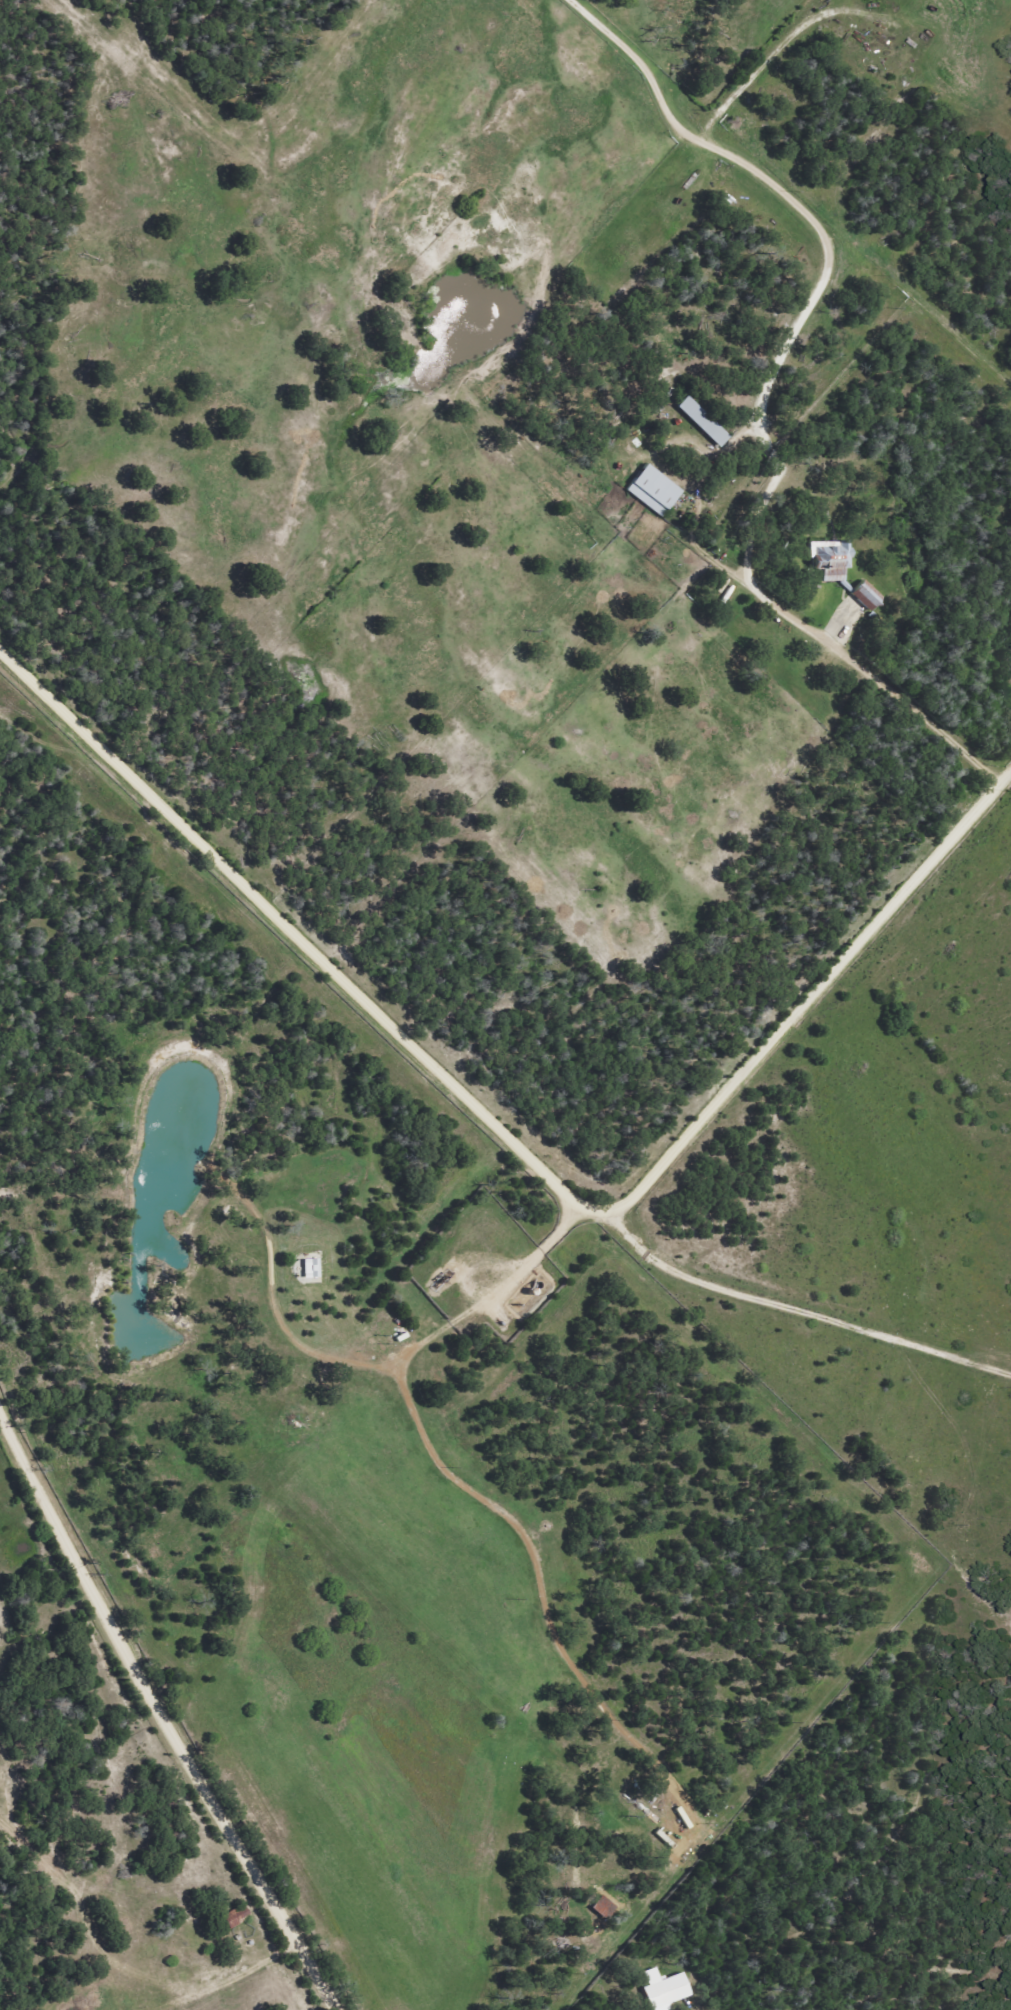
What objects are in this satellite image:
road: (766, 392)
building: (703, 422)
road: (485, 437)
building: (653, 491)
building: (830, 560)
building: (866, 596)
road: (514, 1137)
building: (310, 1269)
road: (782, 1303)
road: (161, 1715)
building: (604, 1908)
building: (664, 1990)

